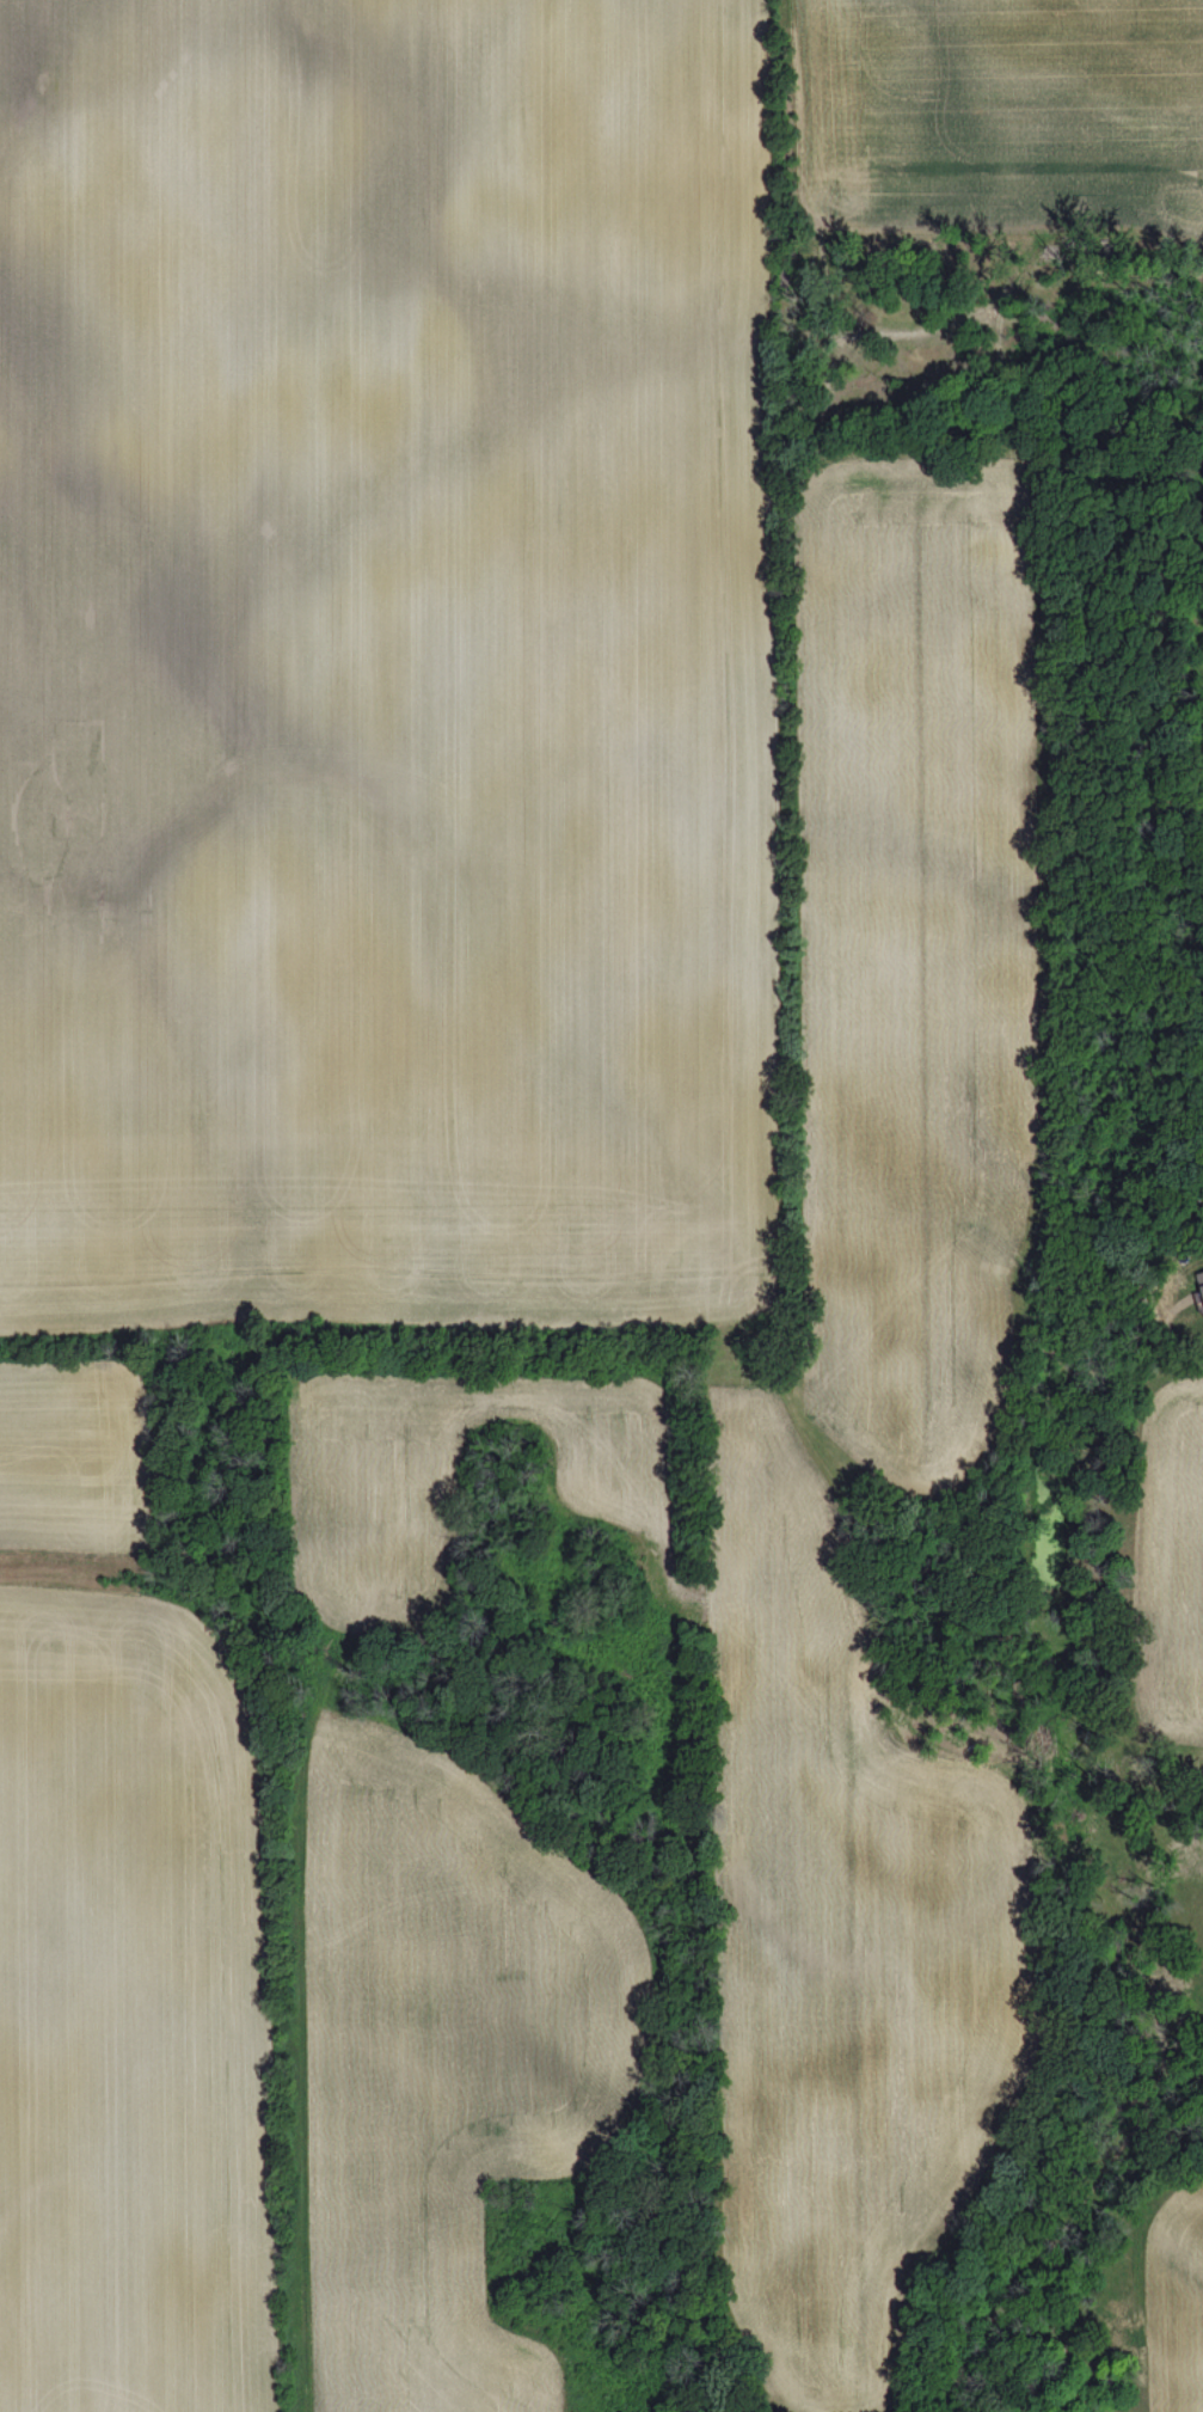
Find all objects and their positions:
building: (1201, 1279)

